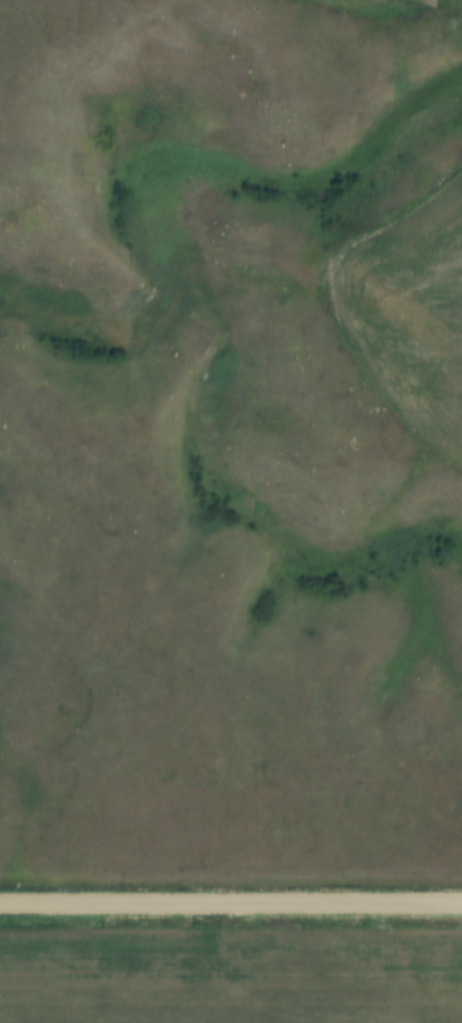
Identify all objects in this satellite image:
road: (231, 907)

